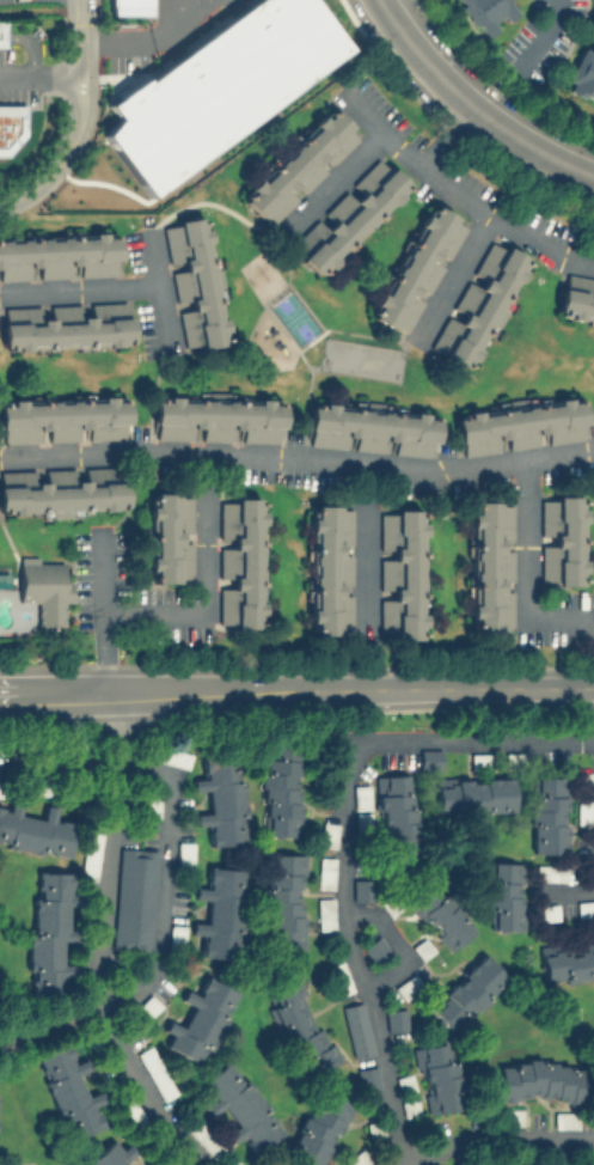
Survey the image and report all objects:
building: (593, 4)
building: (129, 7)
building: (486, 13)
building: (1, 32)
road: (544, 36)
road: (154, 42)
road: (421, 55)
building: (581, 73)
road: (45, 77)
building: (218, 85)
road: (91, 91)
building: (11, 126)
road: (531, 142)
building: (298, 166)
road: (329, 182)
road: (123, 189)
road: (30, 191)
road: (457, 194)
building: (348, 215)
building: (57, 257)
building: (416, 269)
road: (449, 277)
building: (192, 282)
road: (76, 289)
road: (155, 292)
building: (575, 298)
building: (477, 305)
building: (65, 325)
road: (307, 341)
building: (216, 420)
building: (63, 421)
building: (520, 426)
building: (369, 429)
road: (298, 460)
building: (61, 489)
building: (169, 536)
building: (562, 539)
road: (362, 553)
building: (239, 561)
building: (491, 565)
building: (329, 568)
building: (400, 573)
road: (522, 575)
road: (202, 584)
building: (43, 588)
road: (100, 609)
road: (296, 689)
building: (429, 757)
building: (478, 758)
building: (513, 761)
building: (281, 788)
building: (473, 793)
building: (360, 797)
building: (222, 799)
building: (584, 811)
building: (547, 813)
building: (361, 821)
building: (396, 822)
building: (327, 829)
building: (35, 830)
road: (344, 836)
building: (184, 853)
building: (92, 854)
building: (325, 870)
road: (164, 876)
building: (361, 889)
road: (564, 892)
building: (503, 895)
building: (134, 898)
building: (282, 902)
building: (586, 908)
building: (220, 911)
building: (324, 915)
building: (440, 915)
building: (51, 932)
building: (176, 934)
road: (100, 945)
building: (374, 947)
building: (567, 959)
building: (339, 977)
building: (408, 986)
building: (466, 992)
building: (396, 1018)
building: (200, 1019)
building: (298, 1025)
building: (356, 1029)
building: (155, 1072)
building: (437, 1076)
building: (540, 1080)
building: (69, 1090)
building: (240, 1105)
building: (133, 1112)
building: (510, 1116)
building: (564, 1120)
building: (318, 1128)
road: (491, 1136)
building: (206, 1137)
road: (562, 1151)
building: (112, 1154)
building: (357, 1158)

